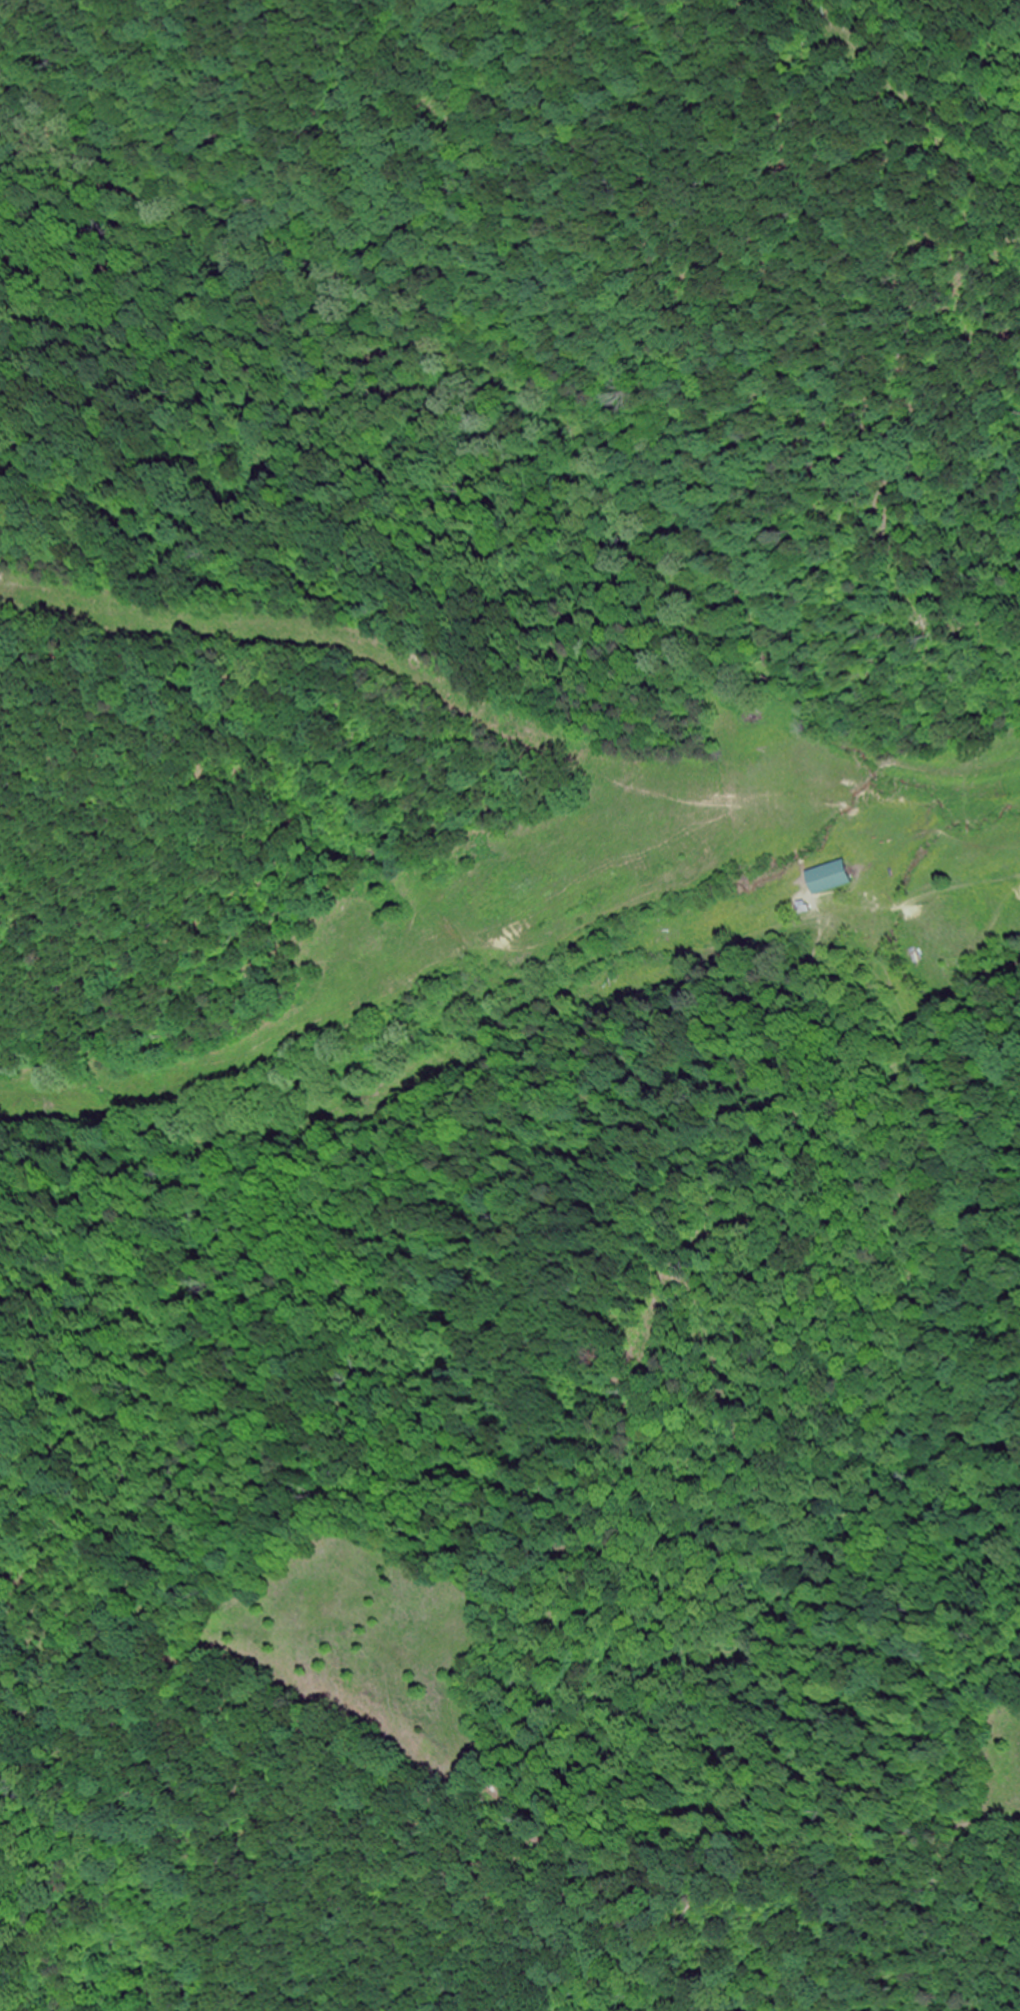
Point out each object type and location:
building: (830, 877)
building: (629, 981)

